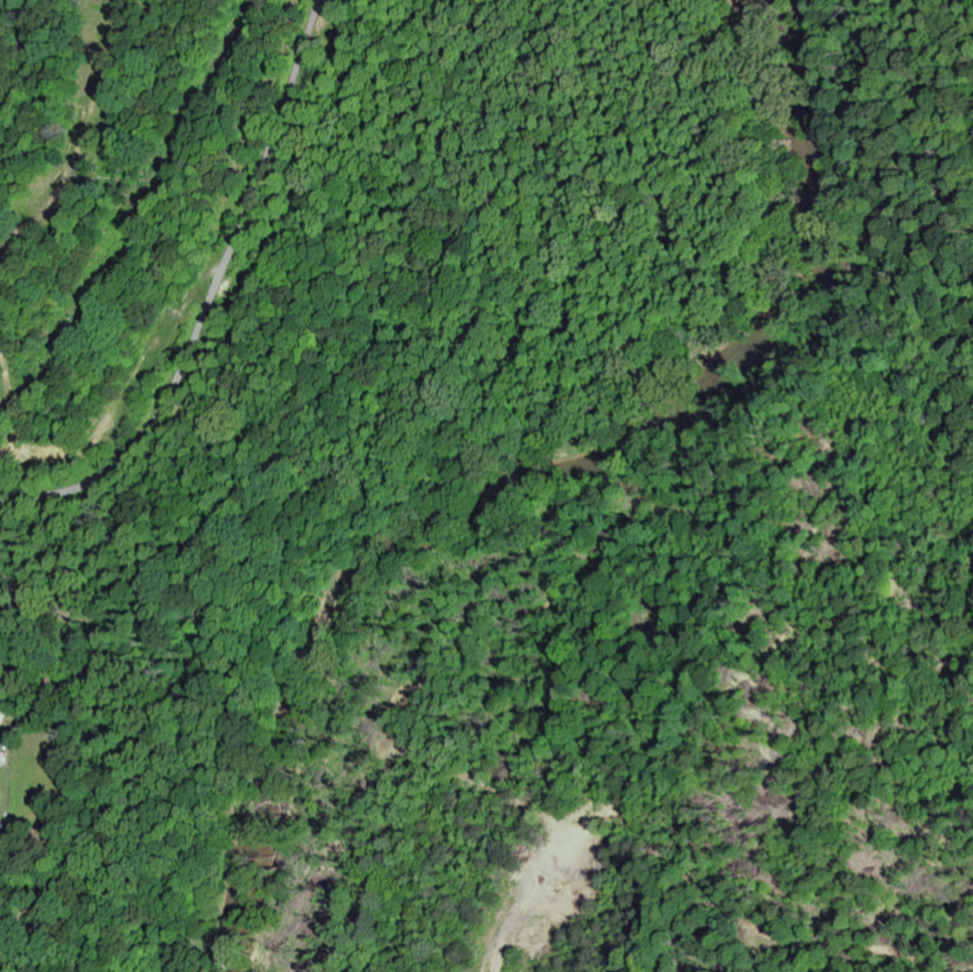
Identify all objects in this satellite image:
road: (213, 301)

